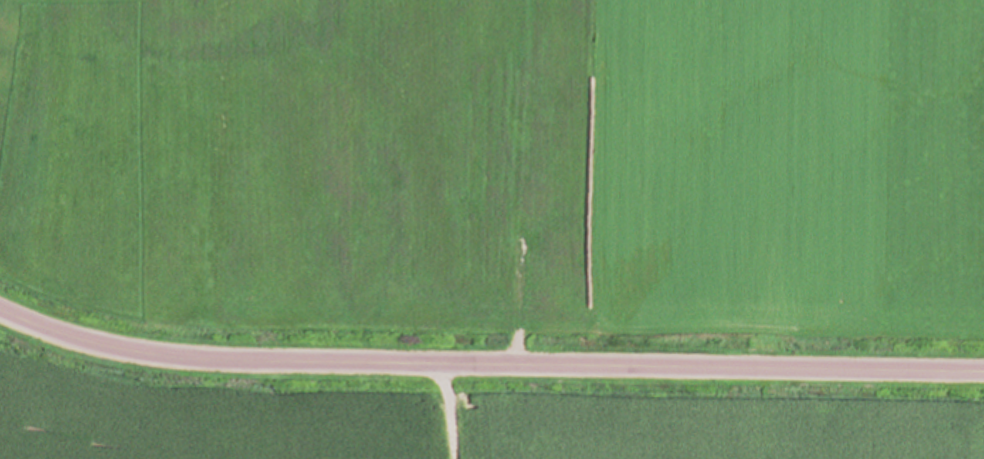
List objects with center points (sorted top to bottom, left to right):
road: (488, 364)

